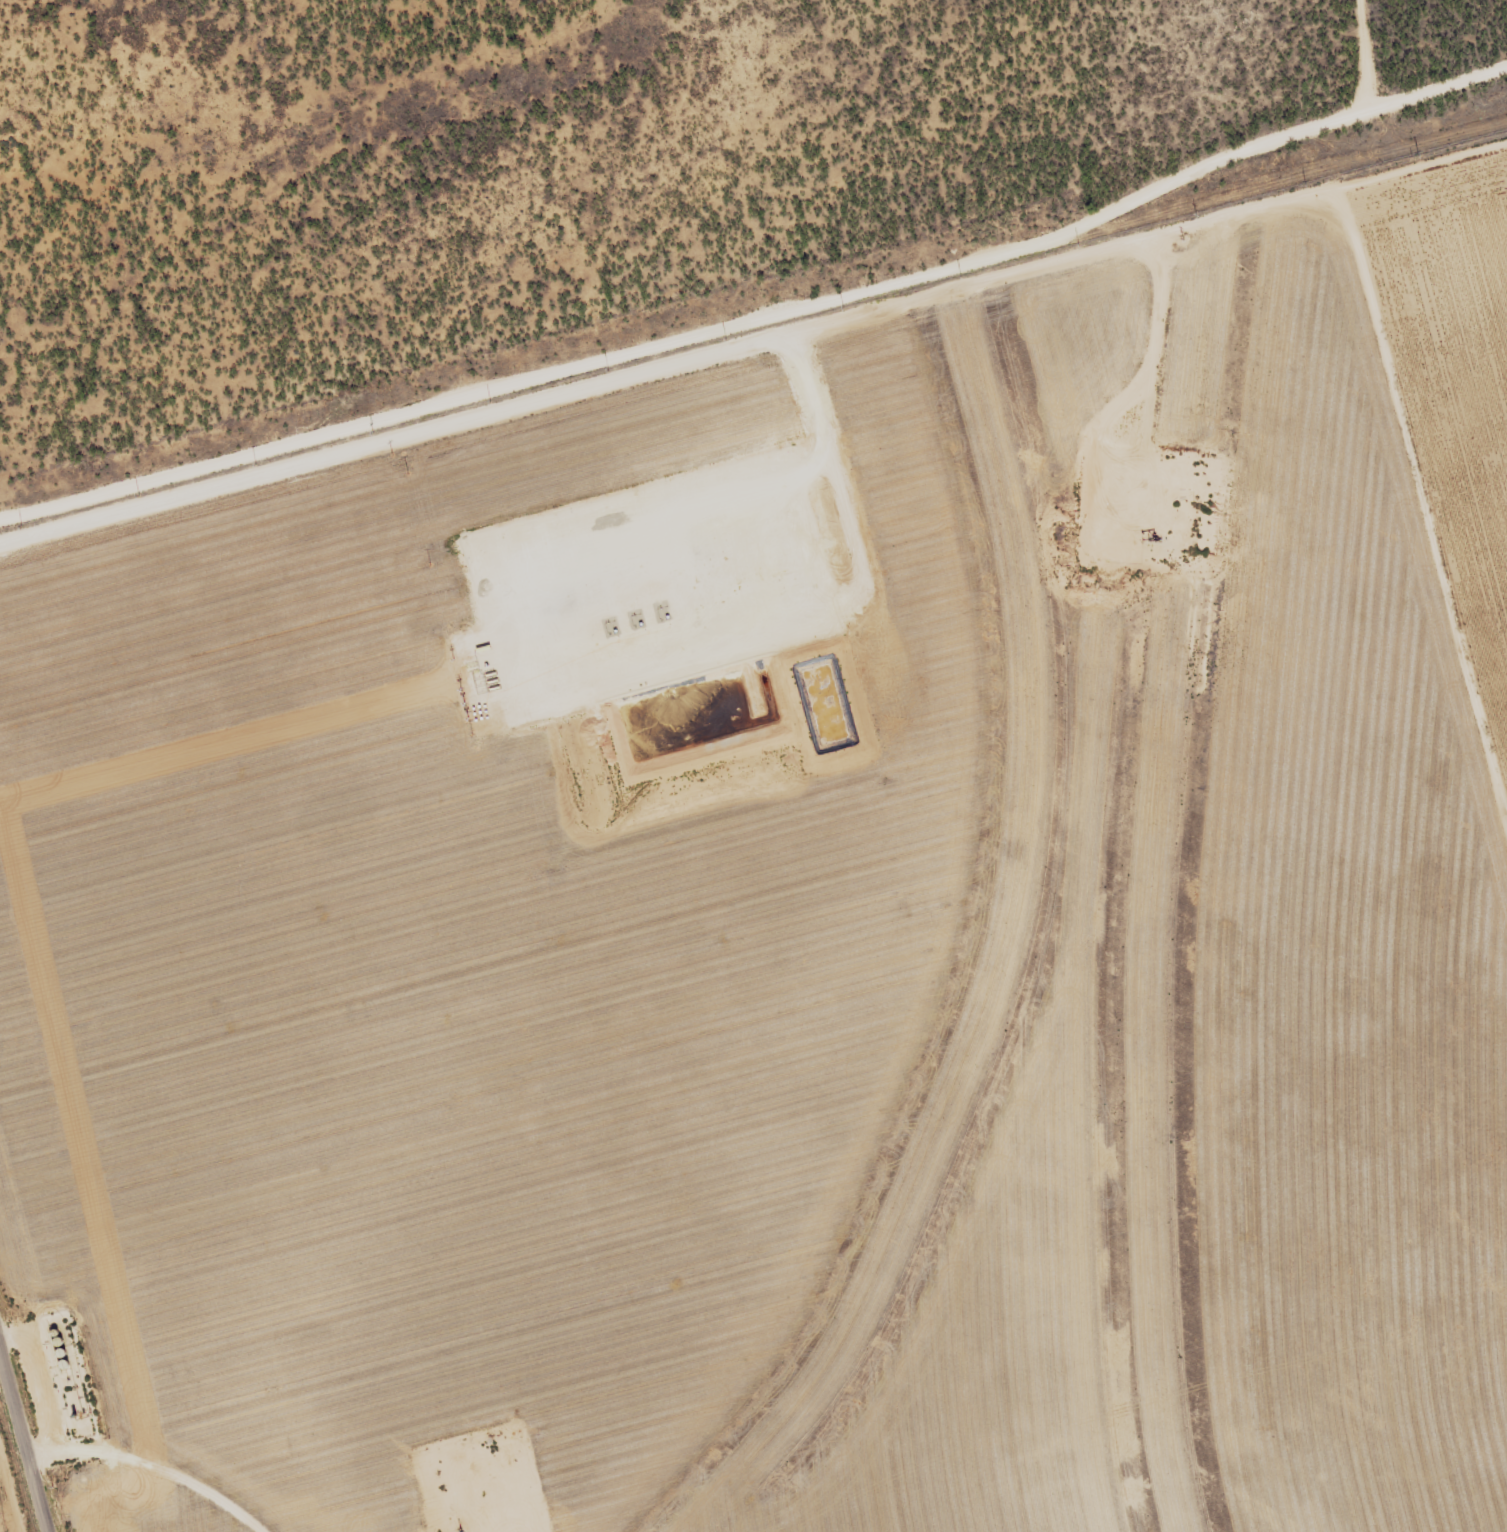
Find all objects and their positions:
road: (1437, 89)
road: (690, 336)
road: (752, 338)
road: (17, 1461)

